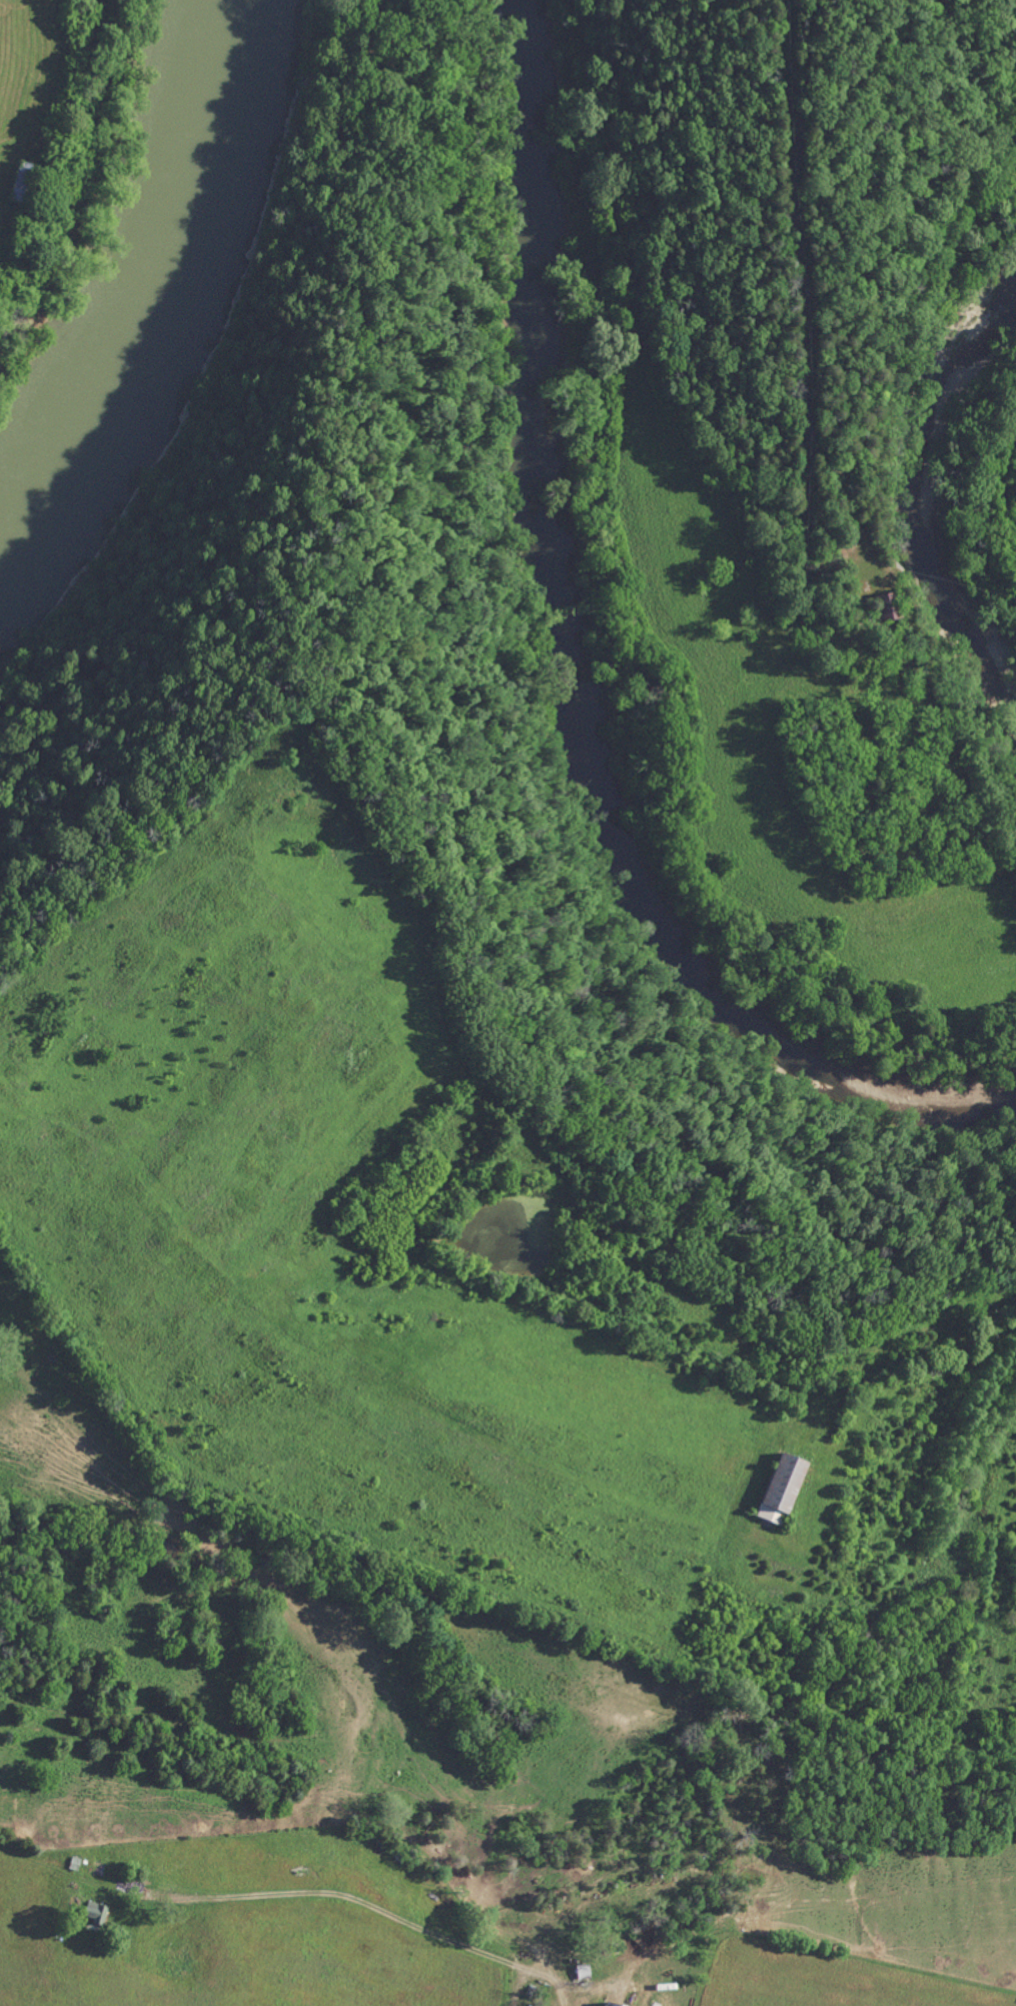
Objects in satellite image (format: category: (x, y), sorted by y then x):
river: (162, 260)
river: (903, 488)
river: (576, 682)
building: (786, 1487)
building: (98, 1912)
building: (615, 2004)

